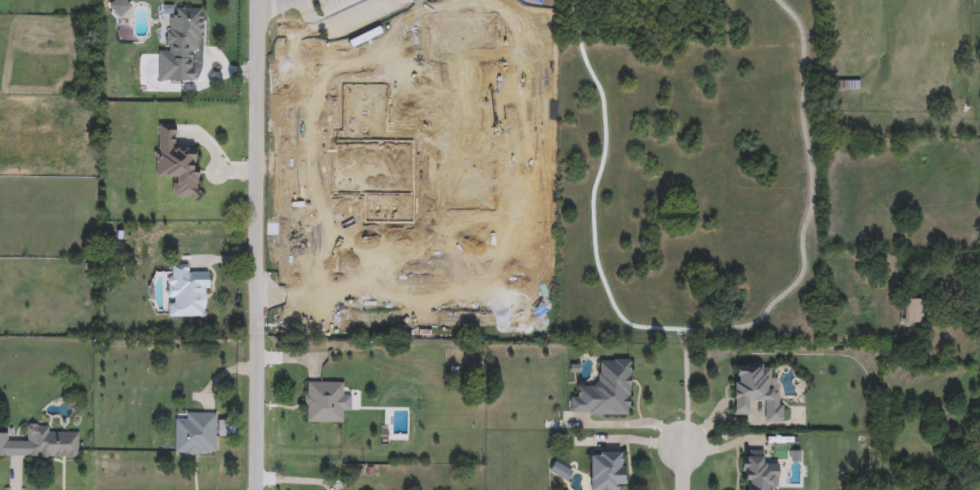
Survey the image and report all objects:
road: (275, 4)
building: (118, 7)
building: (183, 33)
building: (176, 162)
park: (690, 173)
road: (802, 242)
road: (258, 244)
building: (185, 292)
building: (910, 311)
building: (604, 391)
building: (756, 391)
building: (324, 401)
building: (195, 434)
building: (40, 444)
building: (606, 470)
road: (681, 470)
building: (758, 471)

